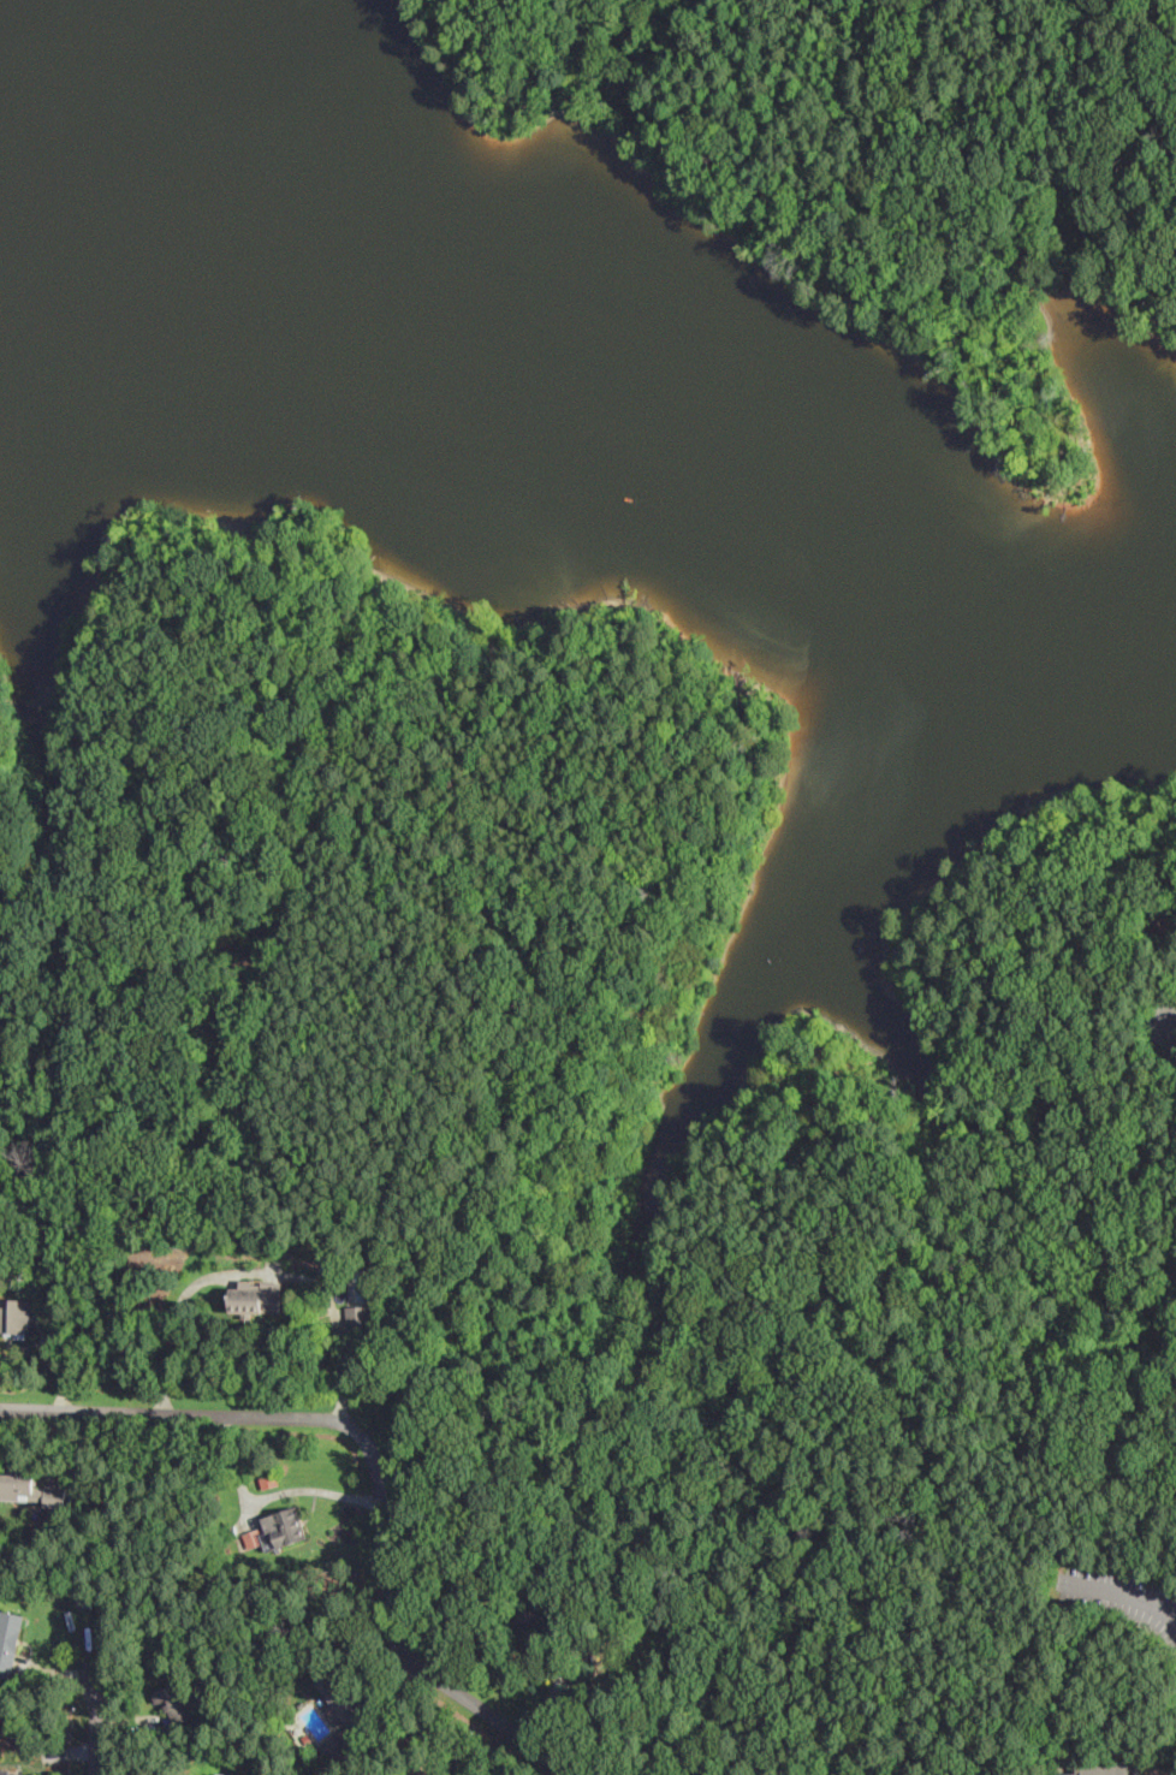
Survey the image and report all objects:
road: (887, 208)
road: (636, 992)
road: (1159, 1027)
park: (618, 1104)
road: (334, 1306)
building: (16, 1314)
road: (173, 1325)
road: (55, 1357)
road: (210, 1415)
building: (31, 1490)
building: (278, 1530)
road: (1121, 1596)
parking lot: (1121, 1598)
building: (10, 1640)
road: (403, 1658)
building: (343, 1698)
building: (176, 1702)
road: (103, 1705)
building: (1109, 1769)
building: (11, 1771)

